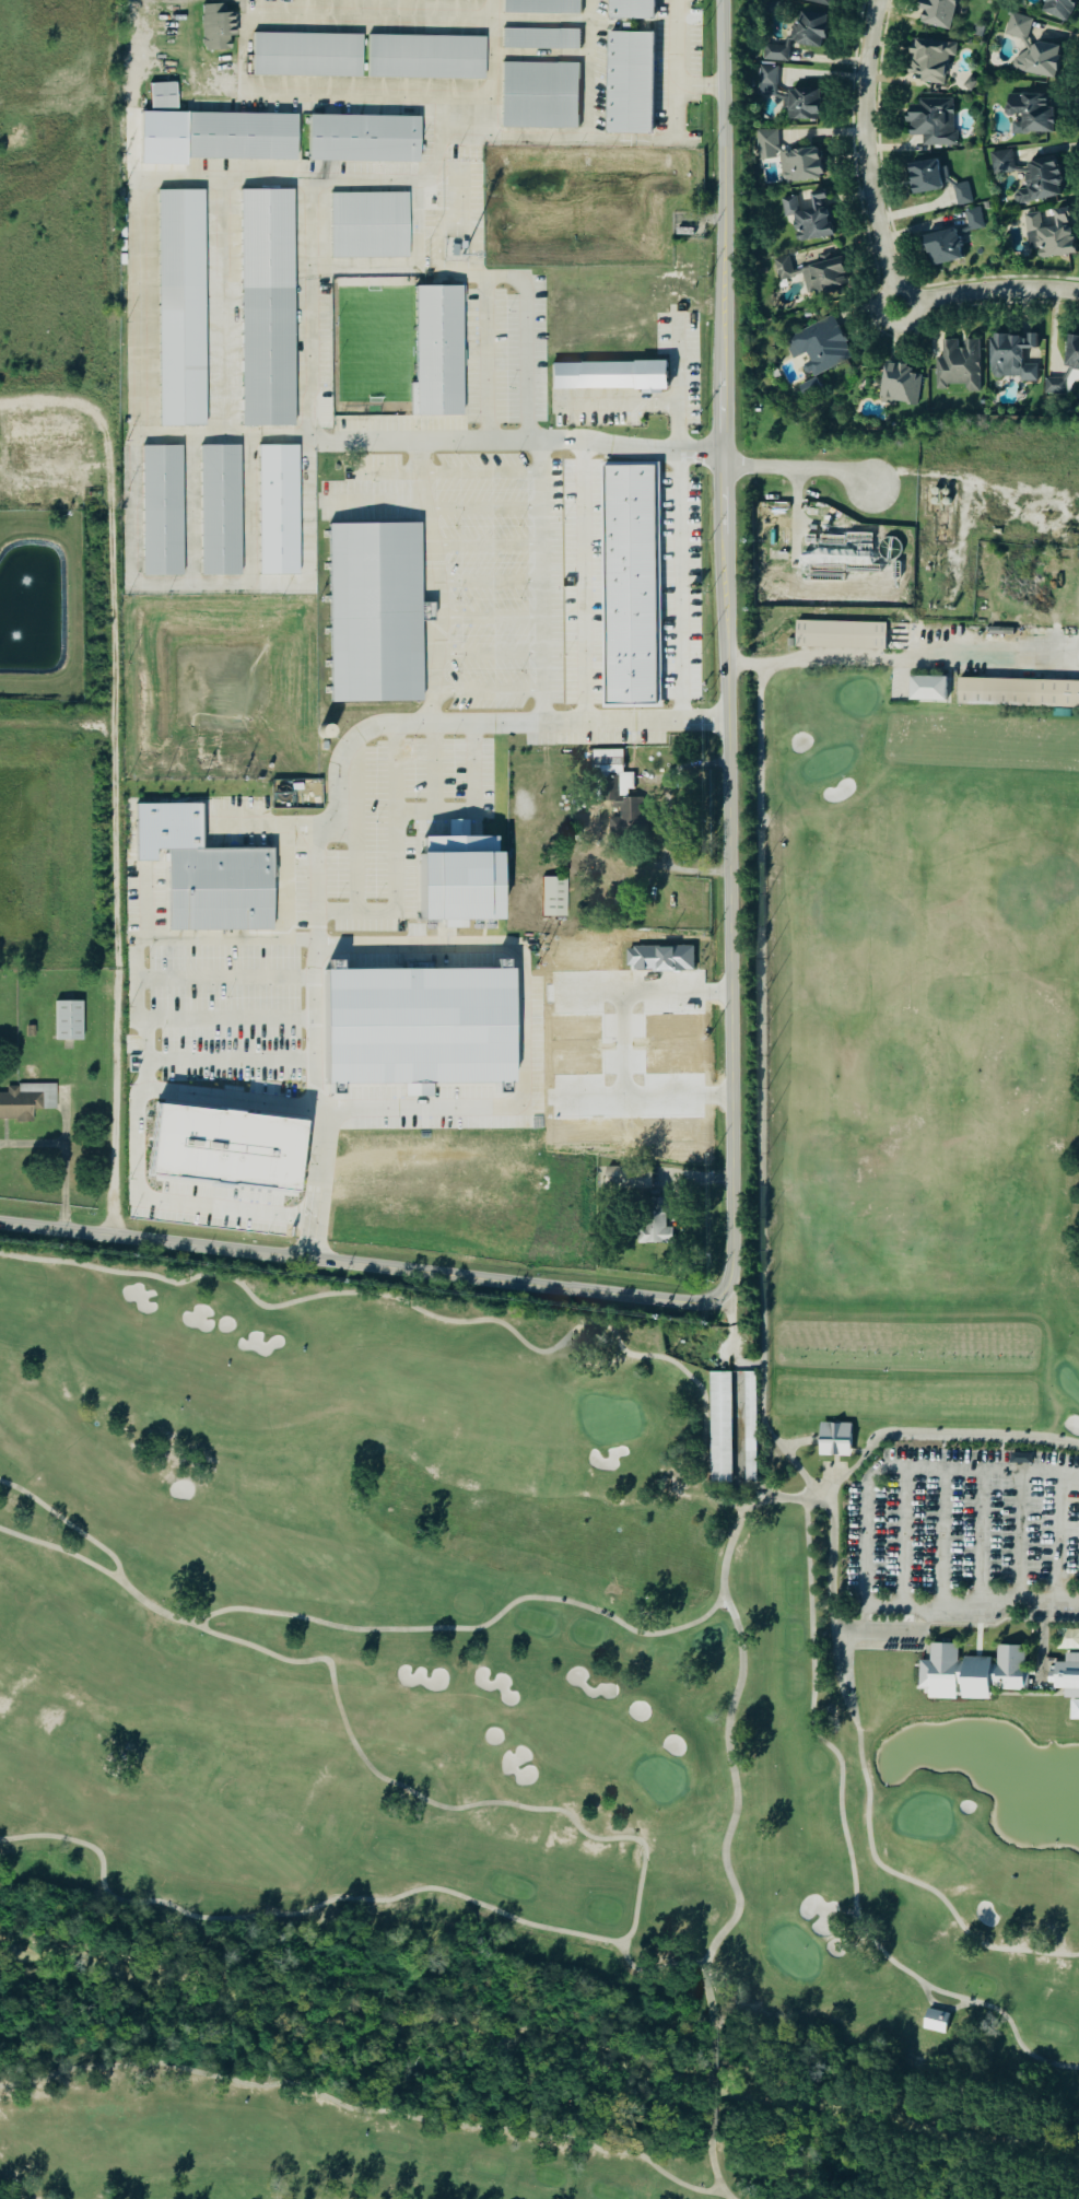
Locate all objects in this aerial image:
building: (817, 2)
building: (539, 7)
building: (1057, 8)
building: (629, 10)
building: (935, 13)
building: (1018, 26)
building: (213, 27)
building: (808, 28)
building: (539, 39)
building: (775, 54)
building: (304, 55)
building: (422, 57)
building: (1037, 59)
building: (928, 61)
road: (677, 63)
road: (587, 69)
road: (493, 74)
building: (765, 81)
building: (629, 83)
building: (160, 95)
building: (538, 95)
building: (801, 104)
building: (1030, 112)
park: (693, 118)
building: (930, 121)
building: (238, 134)
building: (359, 137)
road: (584, 138)
building: (764, 141)
road: (869, 155)
building: (1001, 162)
building: (798, 164)
road: (425, 174)
building: (923, 177)
building: (1037, 182)
building: (961, 195)
building: (809, 218)
building: (972, 220)
building: (370, 224)
building: (1049, 234)
building: (941, 247)
building: (782, 269)
building: (826, 277)
road: (990, 291)
building: (181, 307)
building: (266, 307)
road: (525, 321)
building: (818, 347)
building: (437, 351)
building: (1009, 358)
road: (484, 359)
building: (957, 365)
building: (1065, 369)
building: (610, 374)
building: (899, 384)
road: (679, 385)
road: (621, 402)
building: (324, 406)
road: (193, 434)
road: (136, 454)
road: (796, 468)
road: (542, 492)
building: (278, 508)
building: (162, 510)
building: (220, 510)
road: (438, 583)
road: (579, 584)
building: (628, 584)
road: (677, 586)
building: (374, 611)
building: (840, 634)
road: (888, 656)
building: (928, 689)
building: (1019, 692)
road: (430, 768)
road: (113, 775)
building: (617, 788)
road: (471, 806)
building: (171, 815)
road: (301, 828)
road: (353, 854)
road: (392, 858)
building: (213, 879)
building: (446, 882)
road: (312, 888)
building: (553, 896)
road: (219, 979)
road: (648, 994)
road: (732, 1016)
road: (220, 1017)
building: (69, 1019)
road: (518, 1021)
building: (419, 1026)
building: (31, 1030)
road: (625, 1048)
road: (153, 1061)
road: (305, 1091)
road: (648, 1100)
building: (25, 1101)
building: (214, 1146)
building: (626, 1178)
road: (155, 1198)
building: (654, 1230)
building: (722, 1427)
building: (749, 1437)
building: (833, 1440)
road: (865, 1540)
park: (609, 1546)
building: (892, 1668)
building: (971, 1673)
building: (1066, 1676)
building: (935, 2021)
river: (539, 2051)

